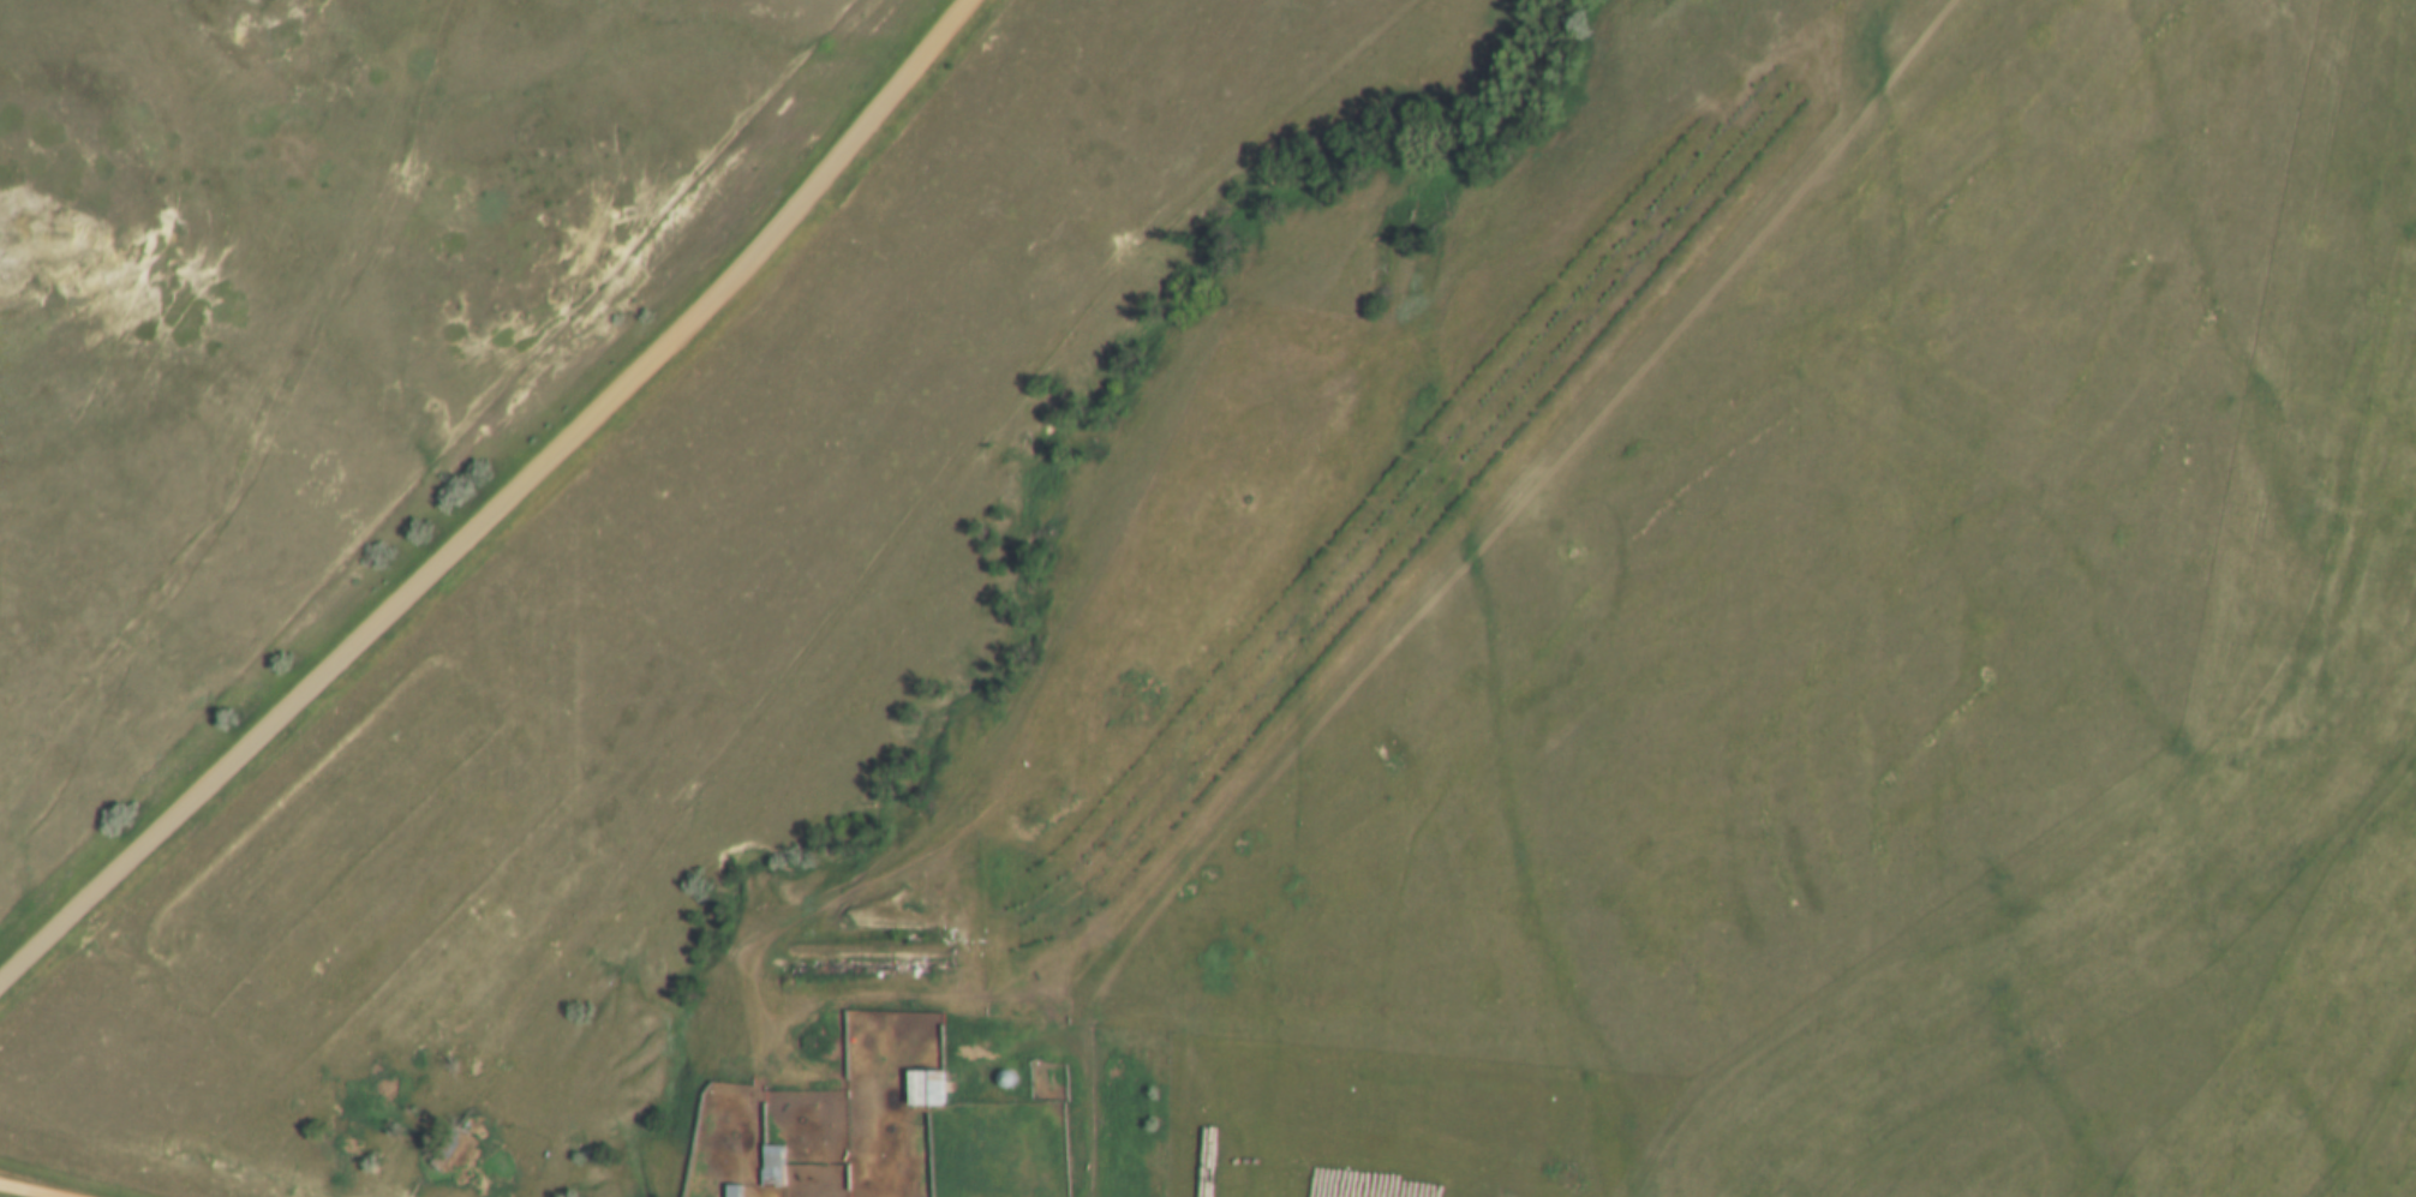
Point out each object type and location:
road: (502, 508)
building: (857, 1029)
building: (730, 1076)
building: (927, 1093)
building: (773, 1169)
road: (31, 1189)
building: (735, 1192)

